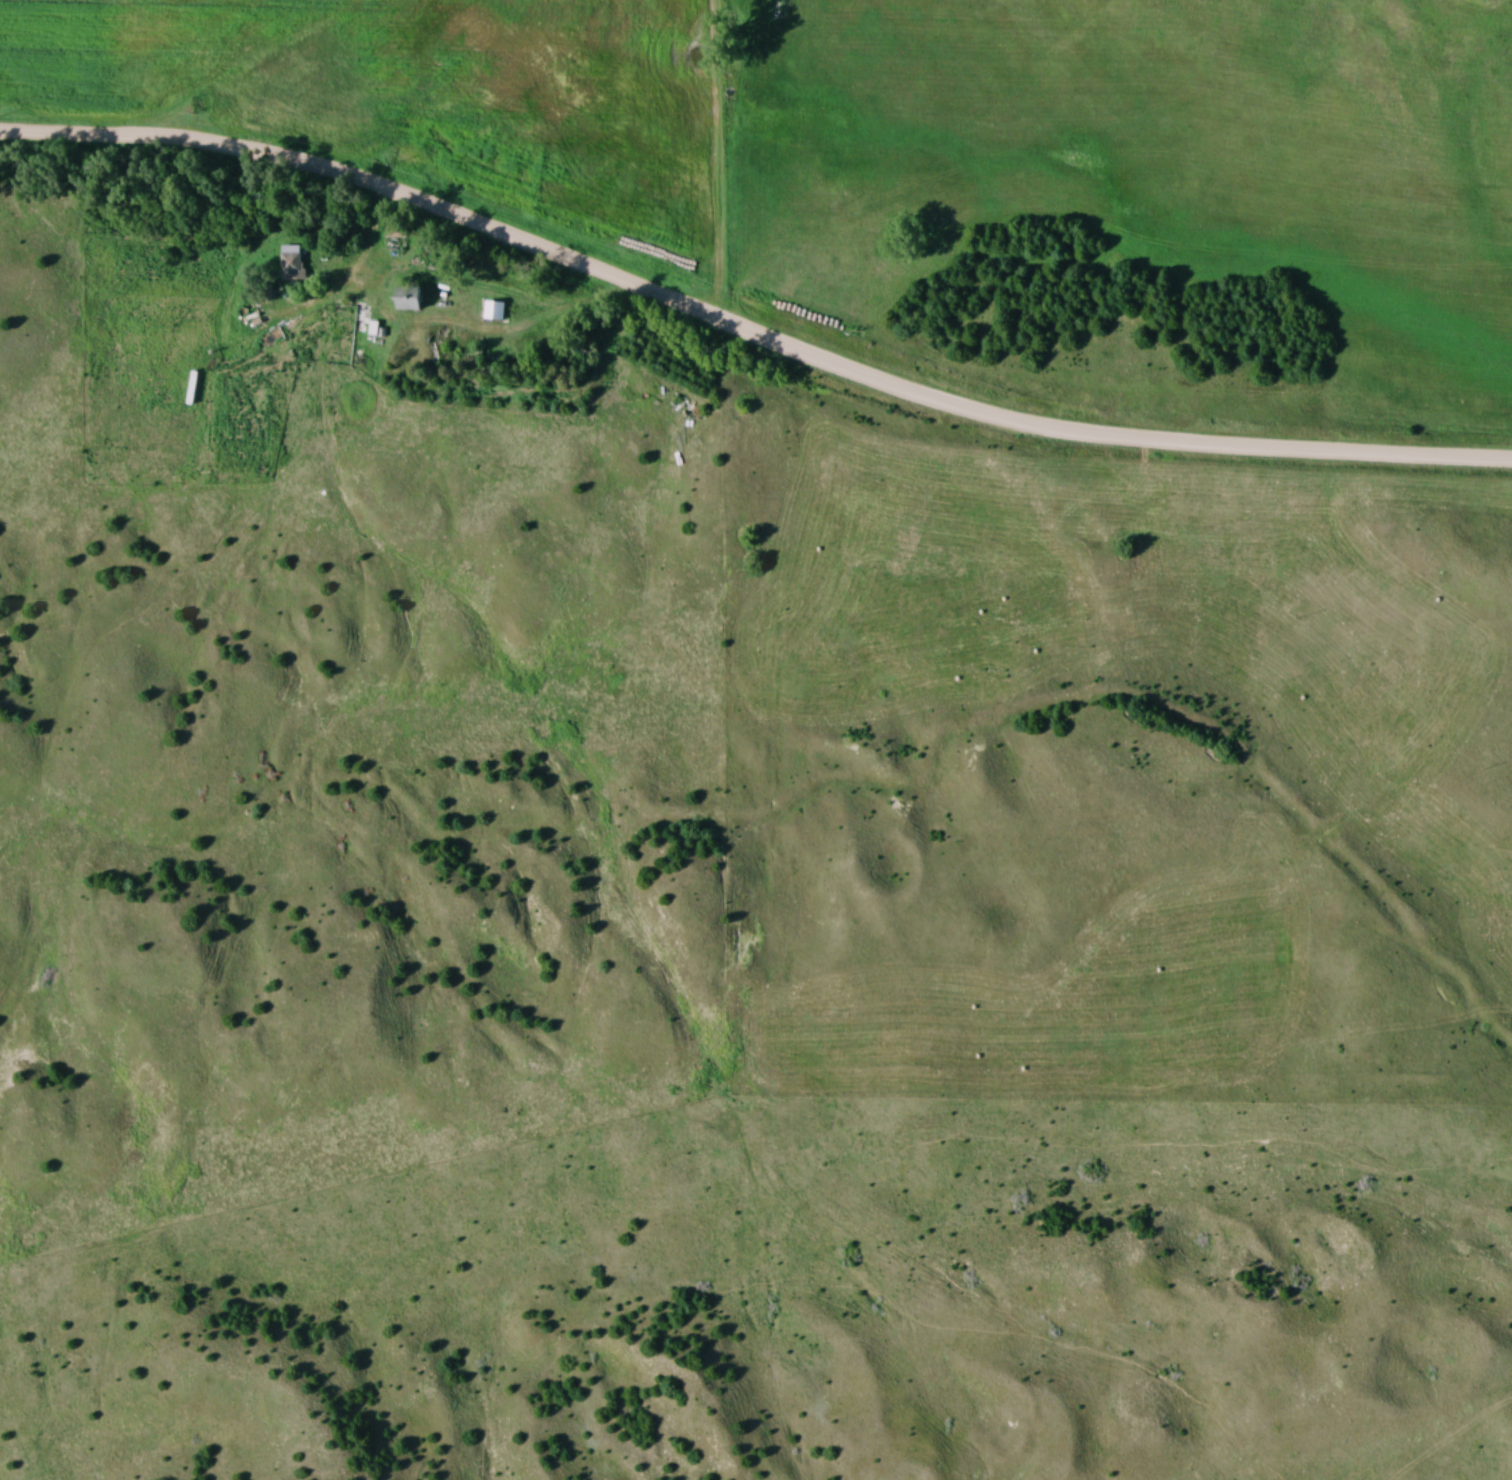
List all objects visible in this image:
building: (410, 156)
building: (292, 268)
building: (409, 299)
building: (495, 311)
road: (747, 328)

